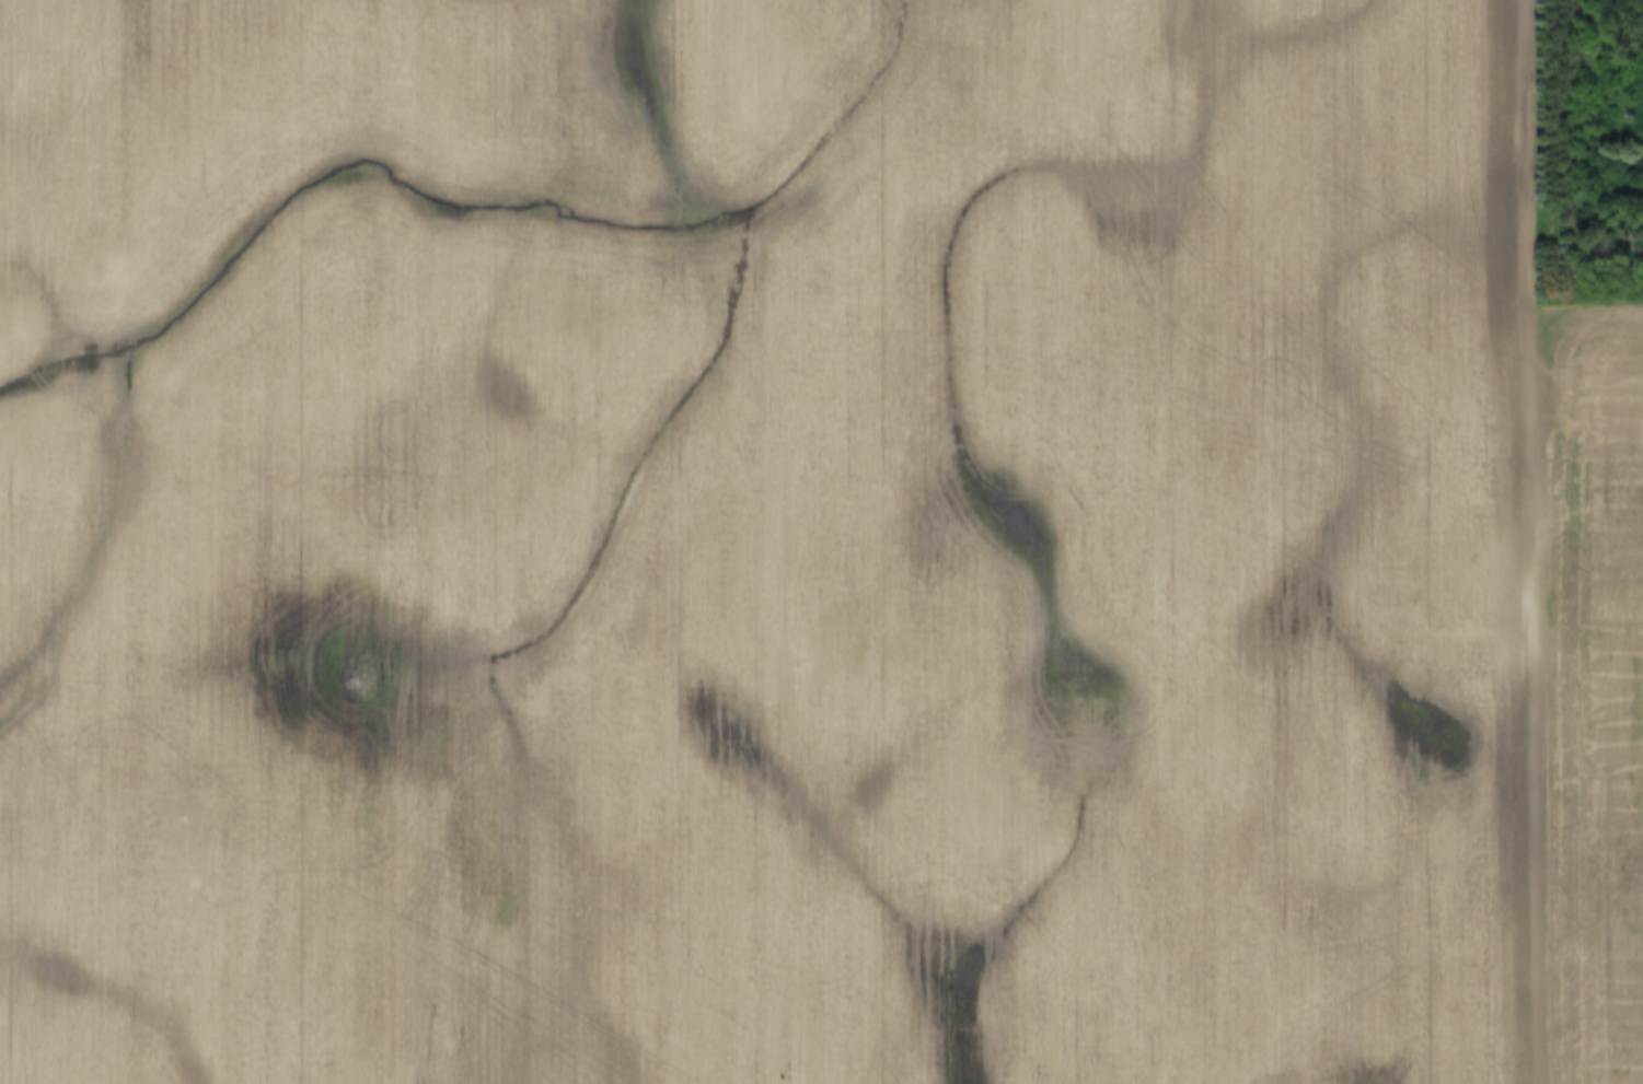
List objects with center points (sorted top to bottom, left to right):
road: (1527, 541)

